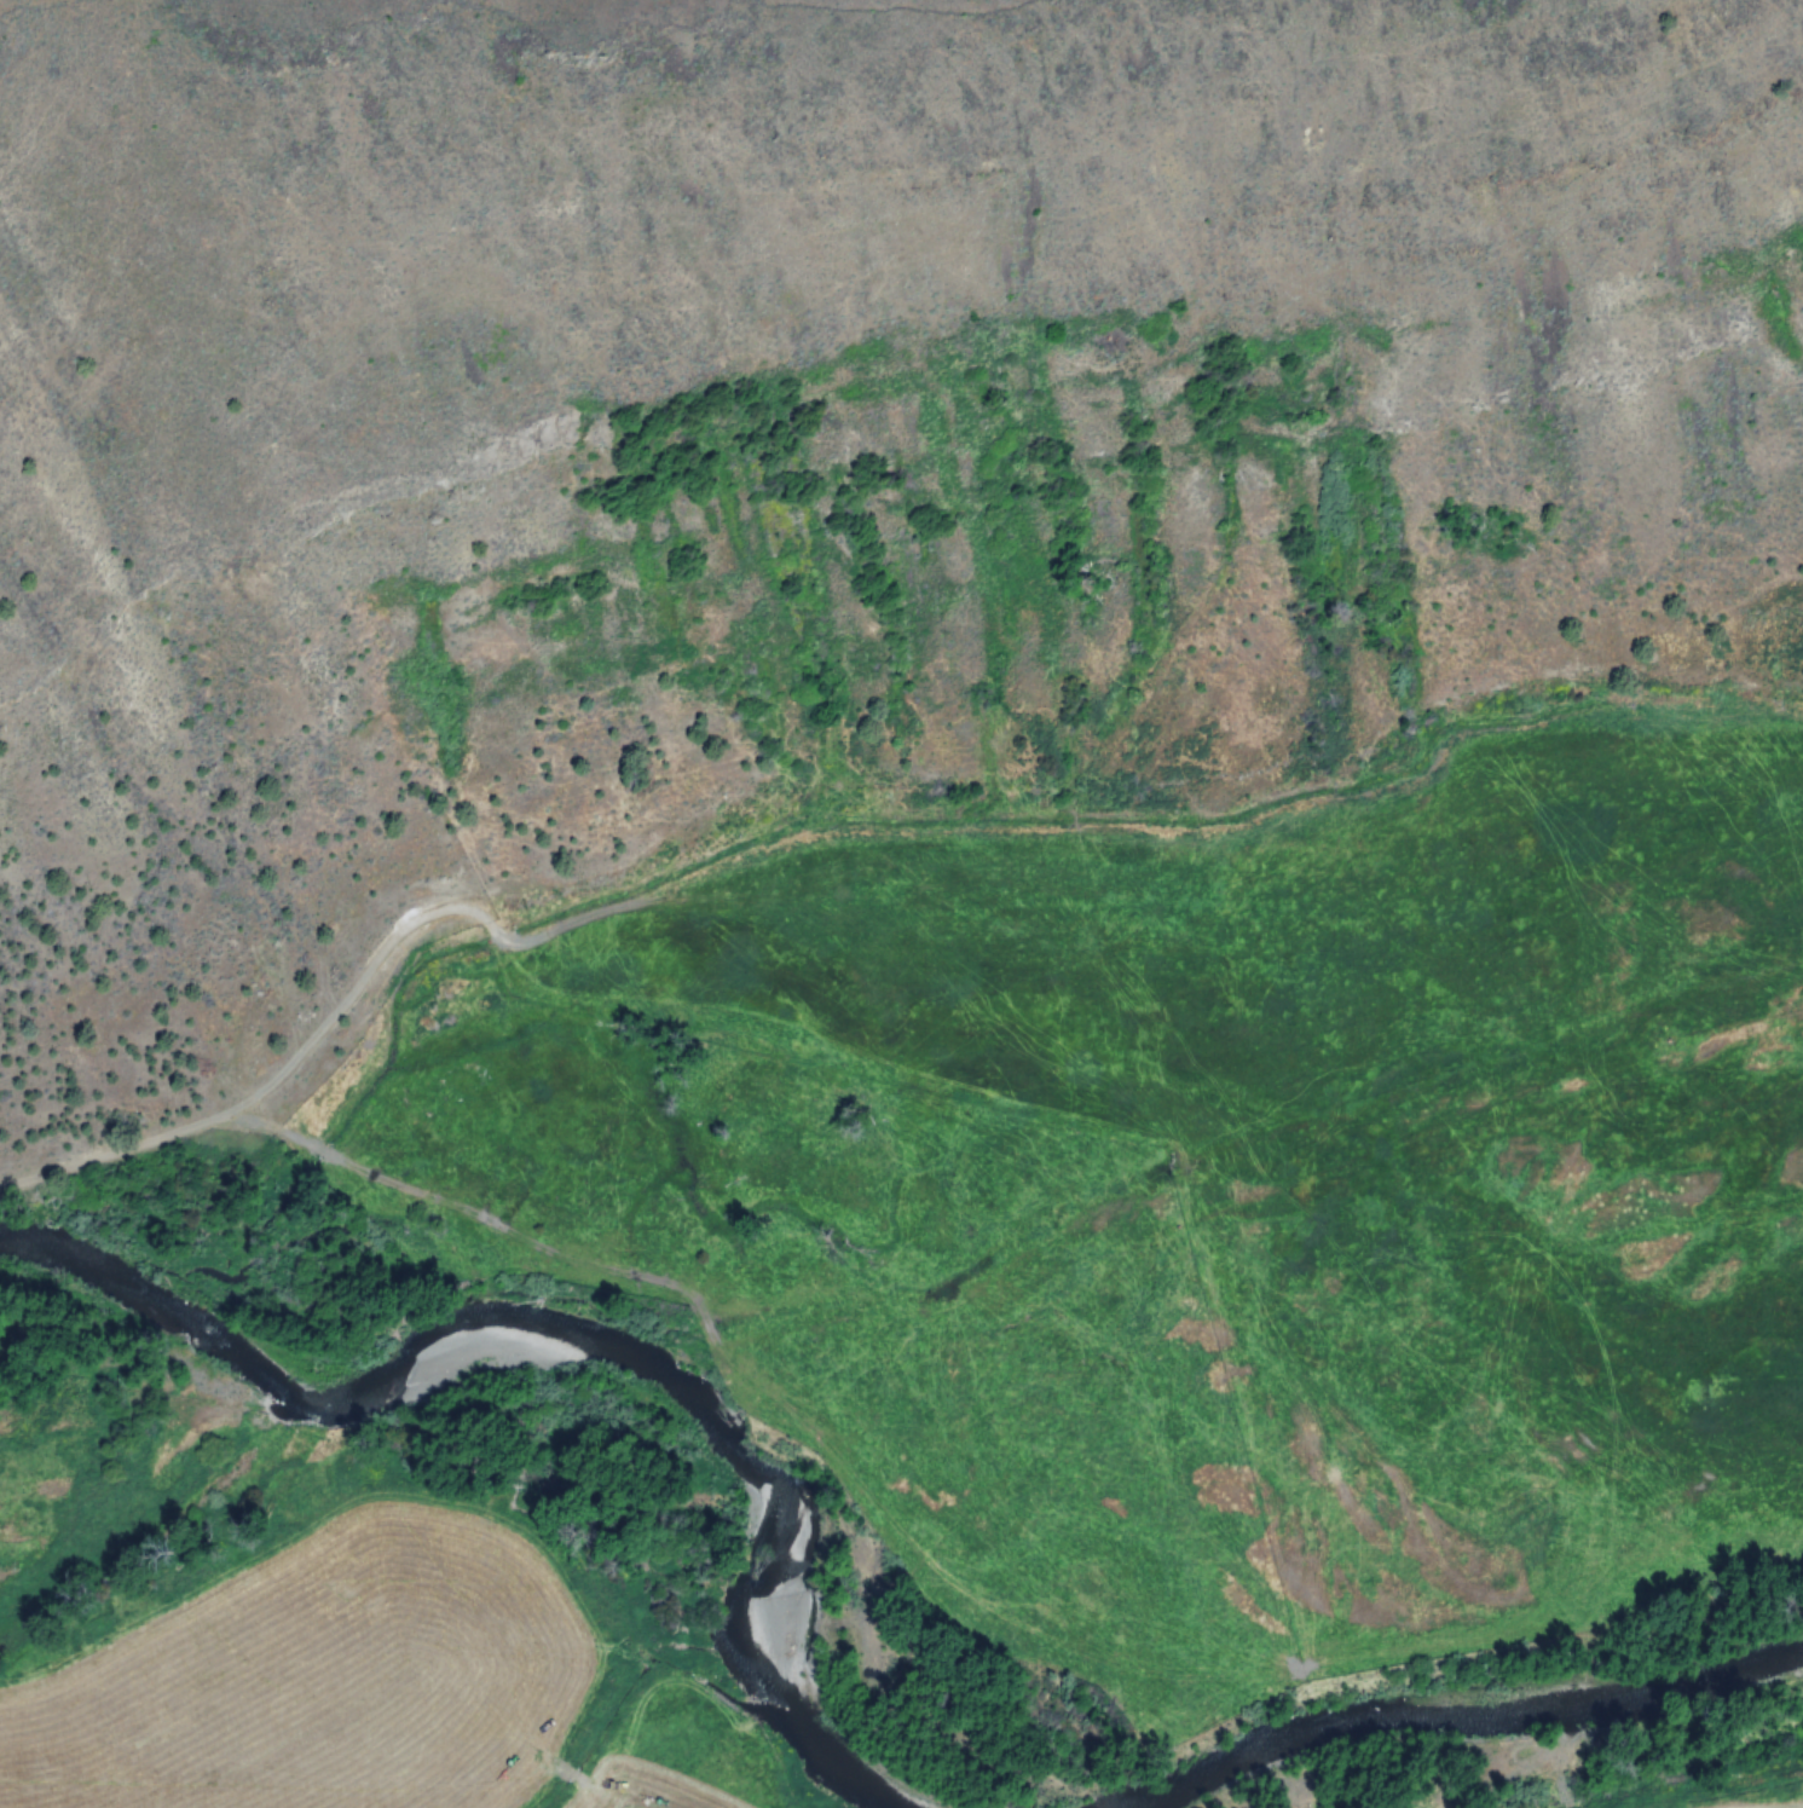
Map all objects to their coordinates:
river: (574, 1333)
river: (1456, 1712)

